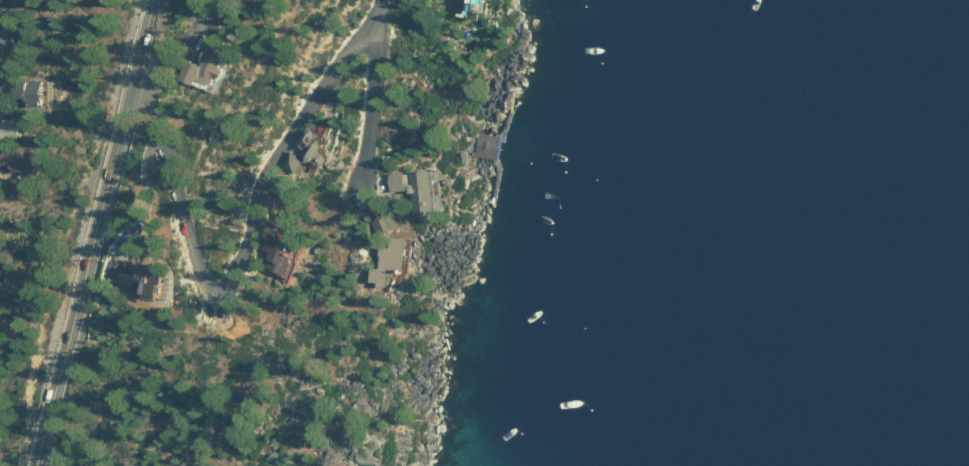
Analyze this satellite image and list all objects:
building: (480, 0)
road: (6, 27)
building: (212, 67)
building: (37, 92)
road: (367, 94)
pier: (503, 125)
building: (15, 127)
building: (20, 157)
building: (294, 161)
pier: (493, 172)
building: (422, 190)
road: (94, 234)
building: (289, 248)
building: (392, 253)
road: (219, 281)

